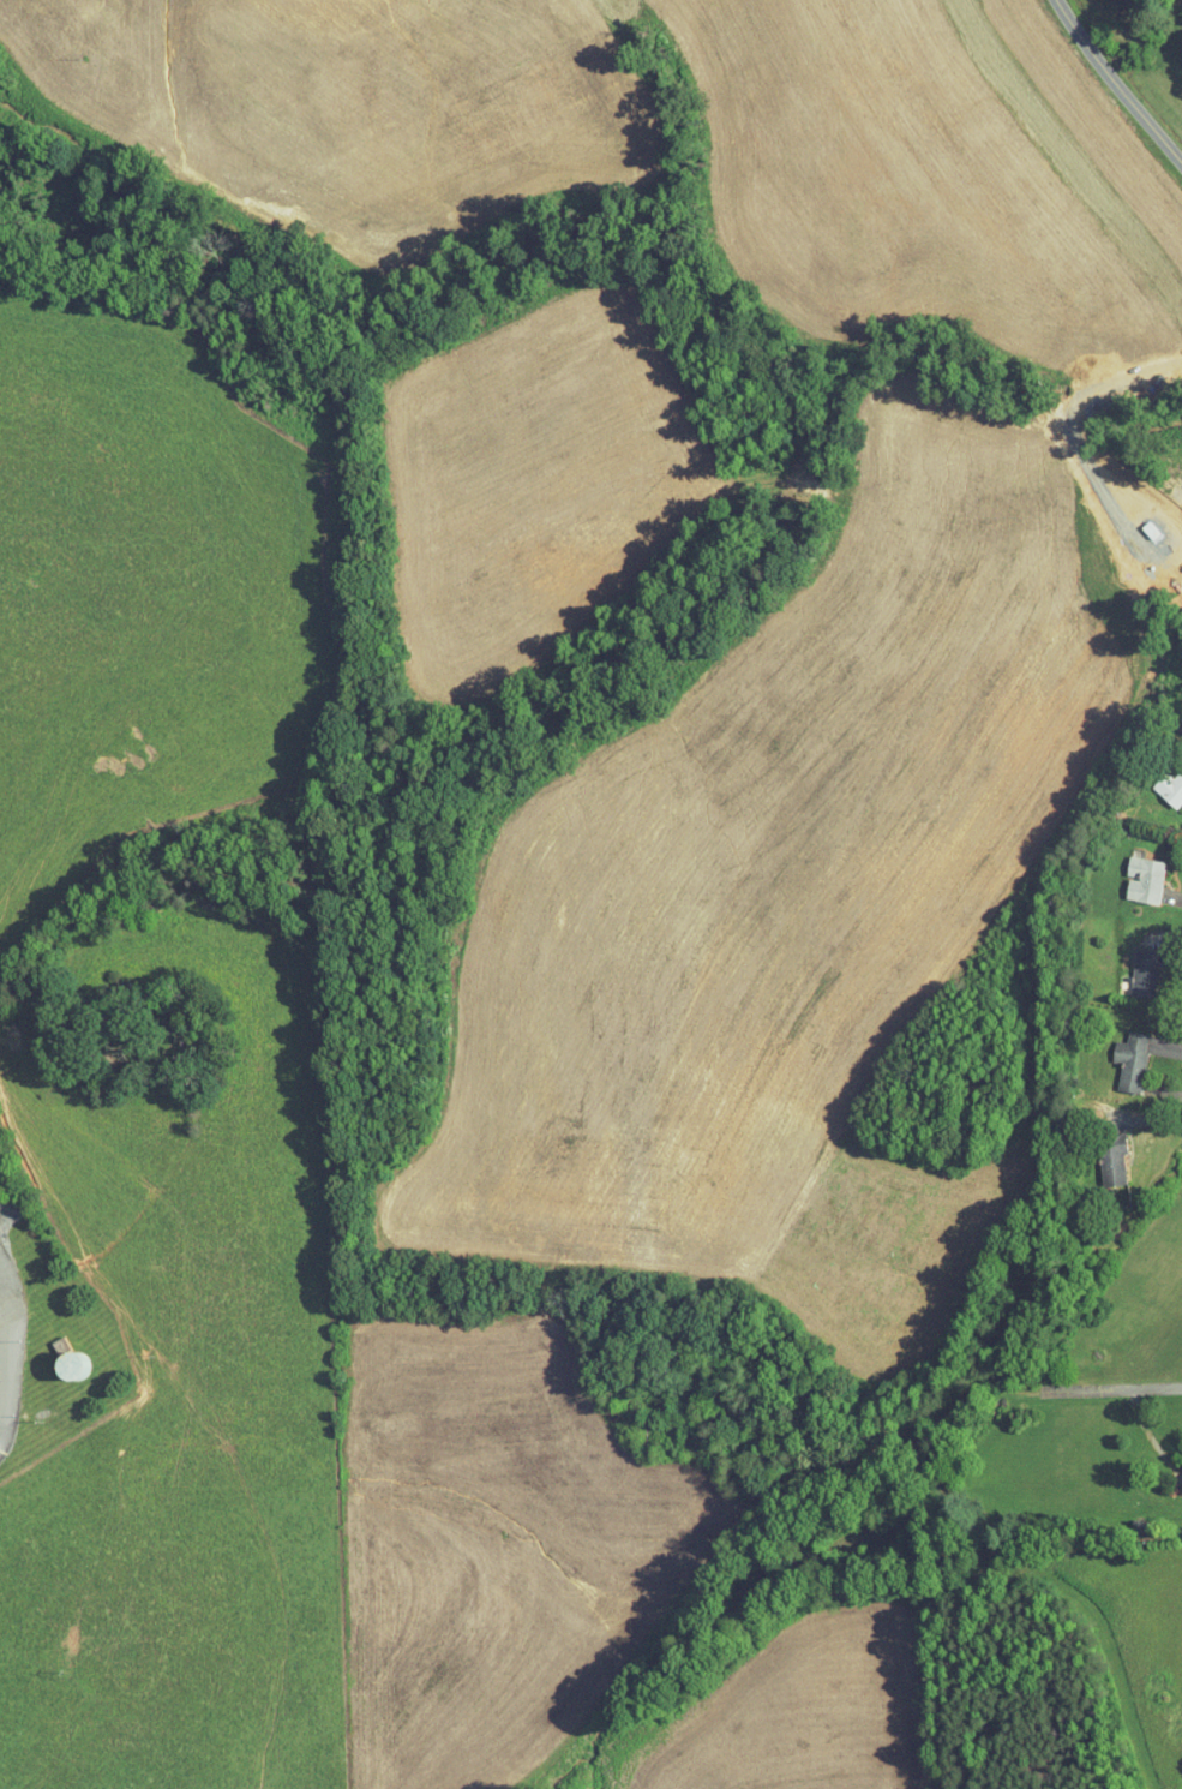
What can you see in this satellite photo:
road: (1120, 85)
building: (1162, 777)
building: (1129, 872)
building: (1127, 964)
building: (1116, 1053)
road: (1180, 1075)
building: (1097, 1153)
road: (1116, 1387)
road: (4, 1388)
building: (1180, 1470)

